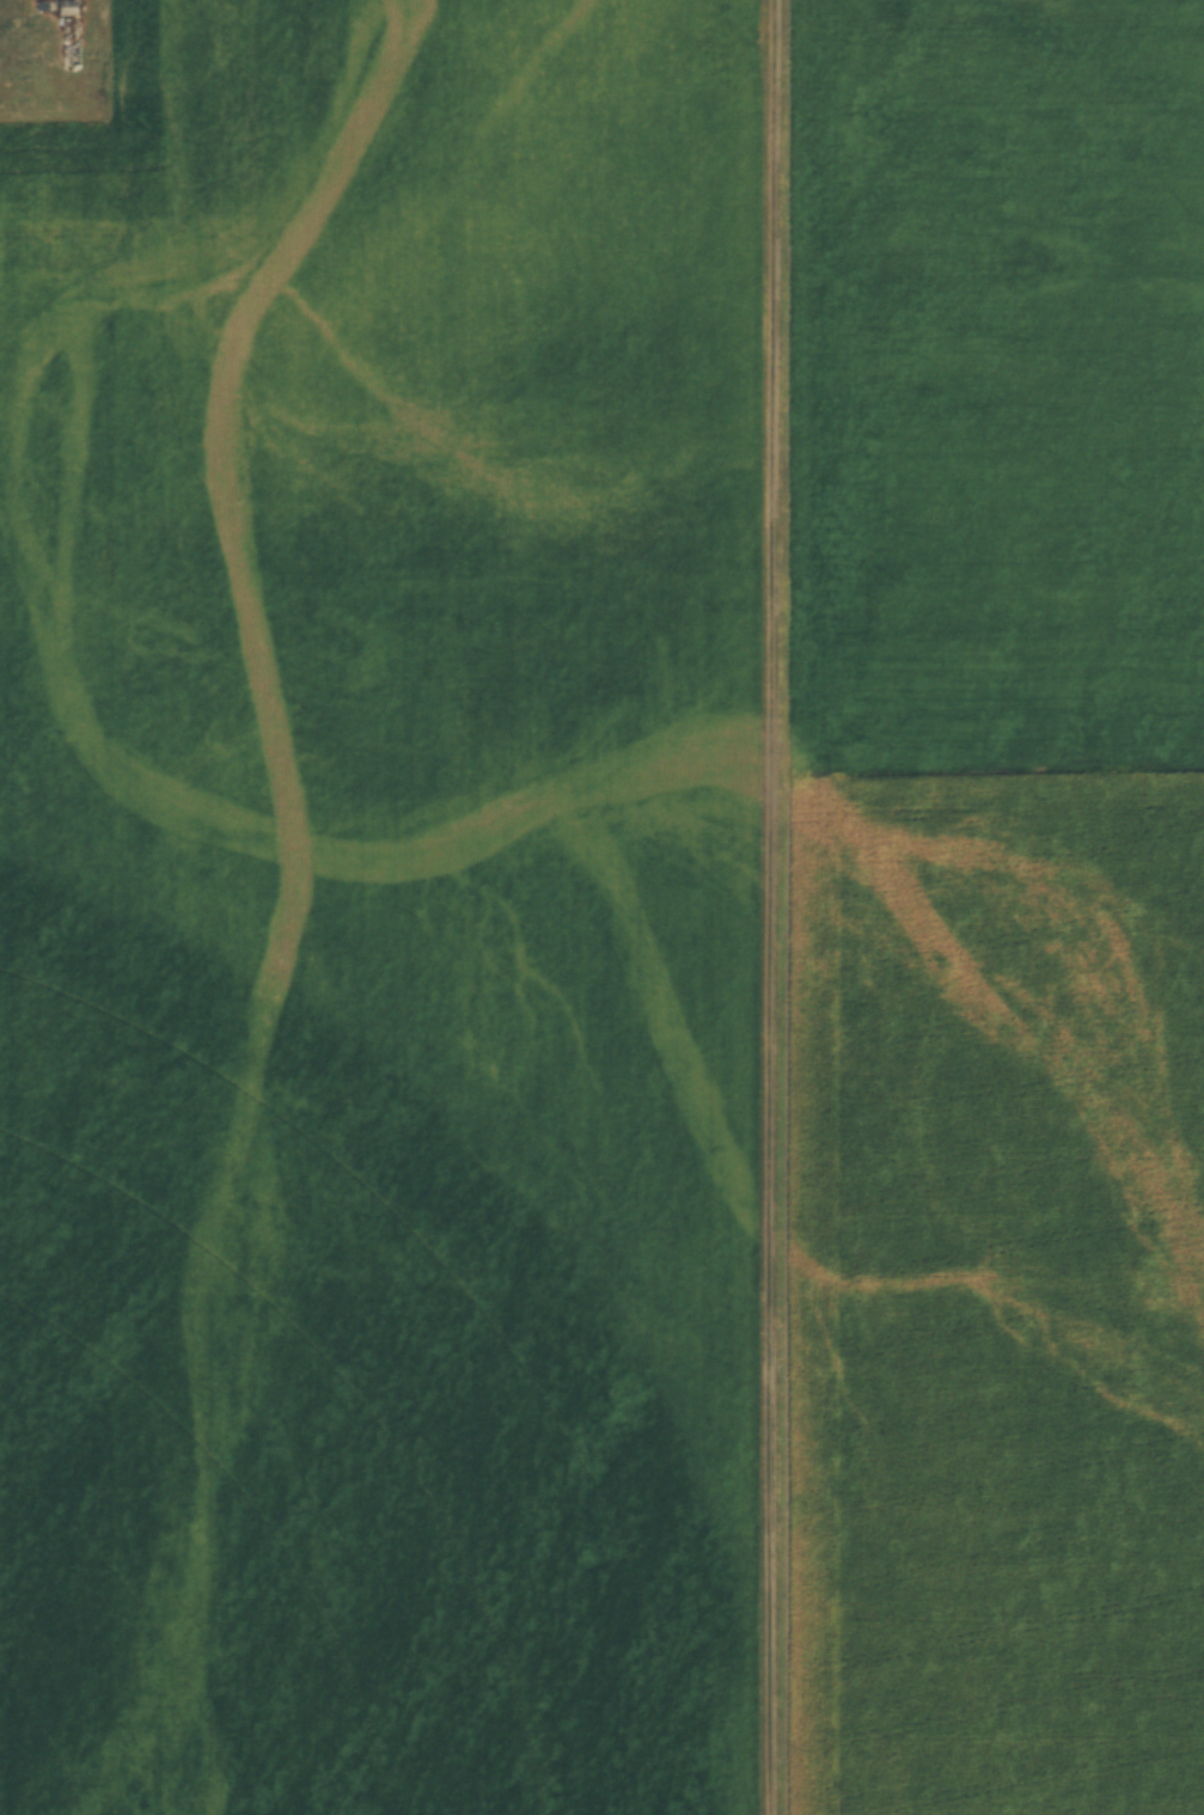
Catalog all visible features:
road: (782, 907)

